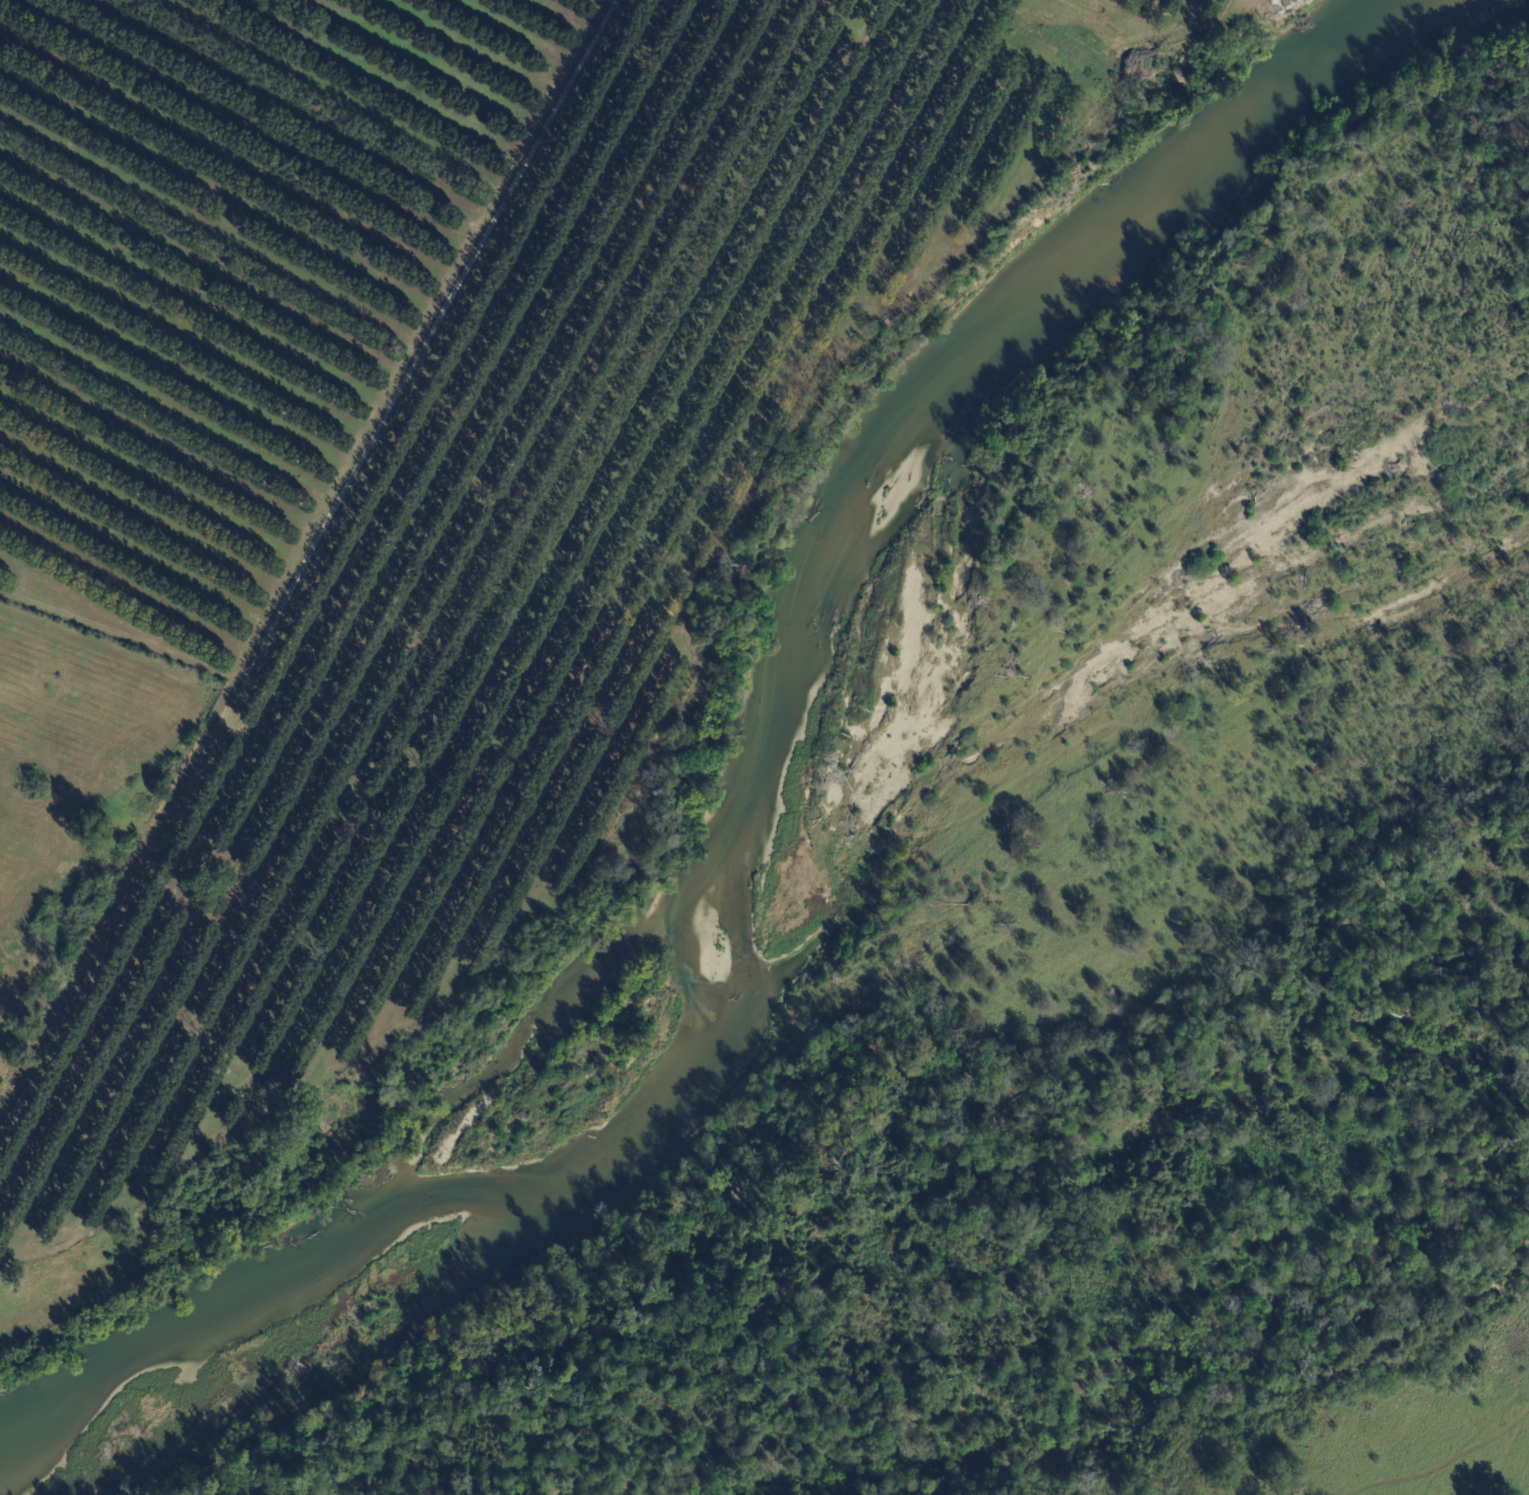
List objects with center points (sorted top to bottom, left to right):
river: (766, 810)

